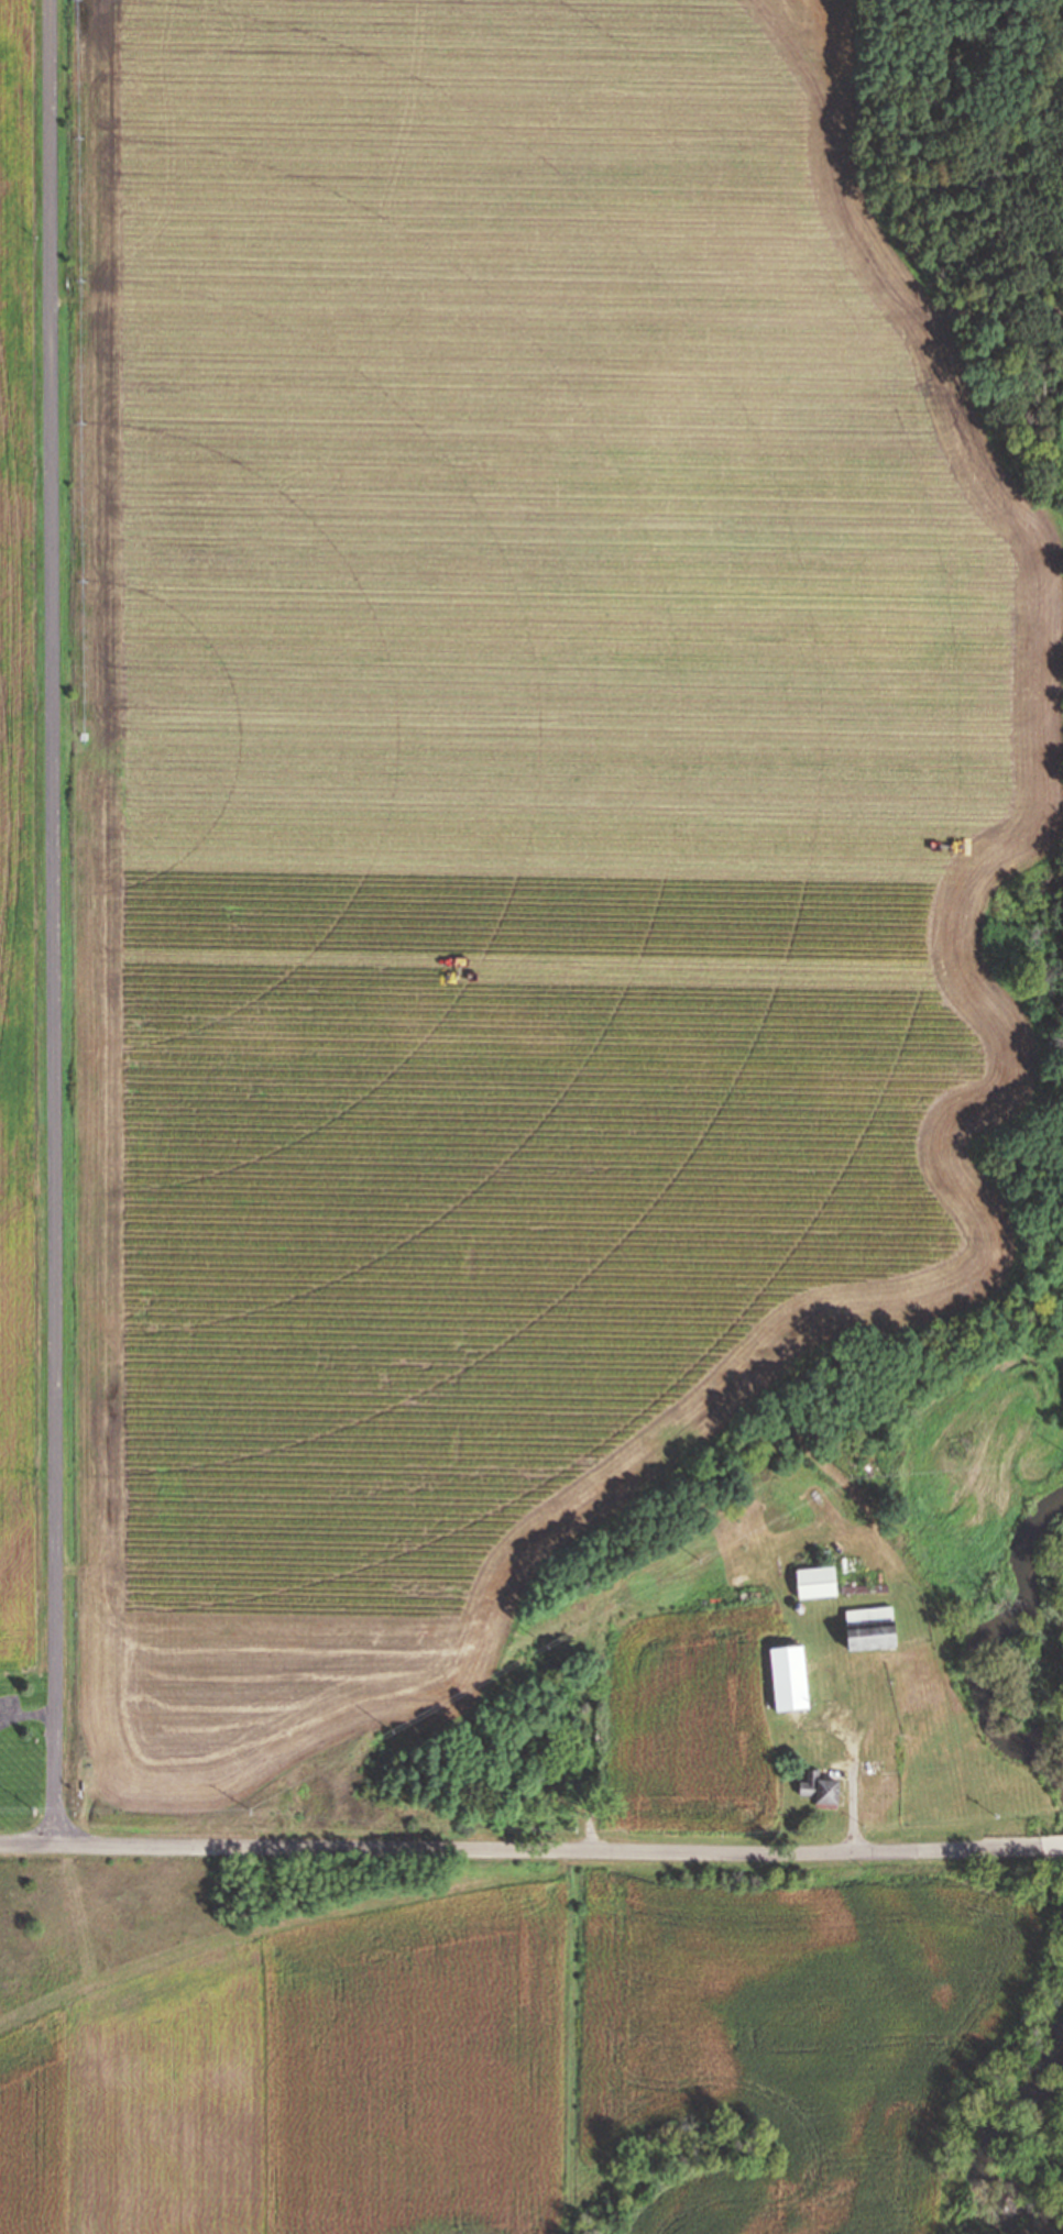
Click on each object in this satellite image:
road: (56, 923)
building: (819, 1581)
building: (873, 1628)
building: (821, 1786)
building: (528, 1787)
road: (1054, 1844)
road: (523, 1848)

